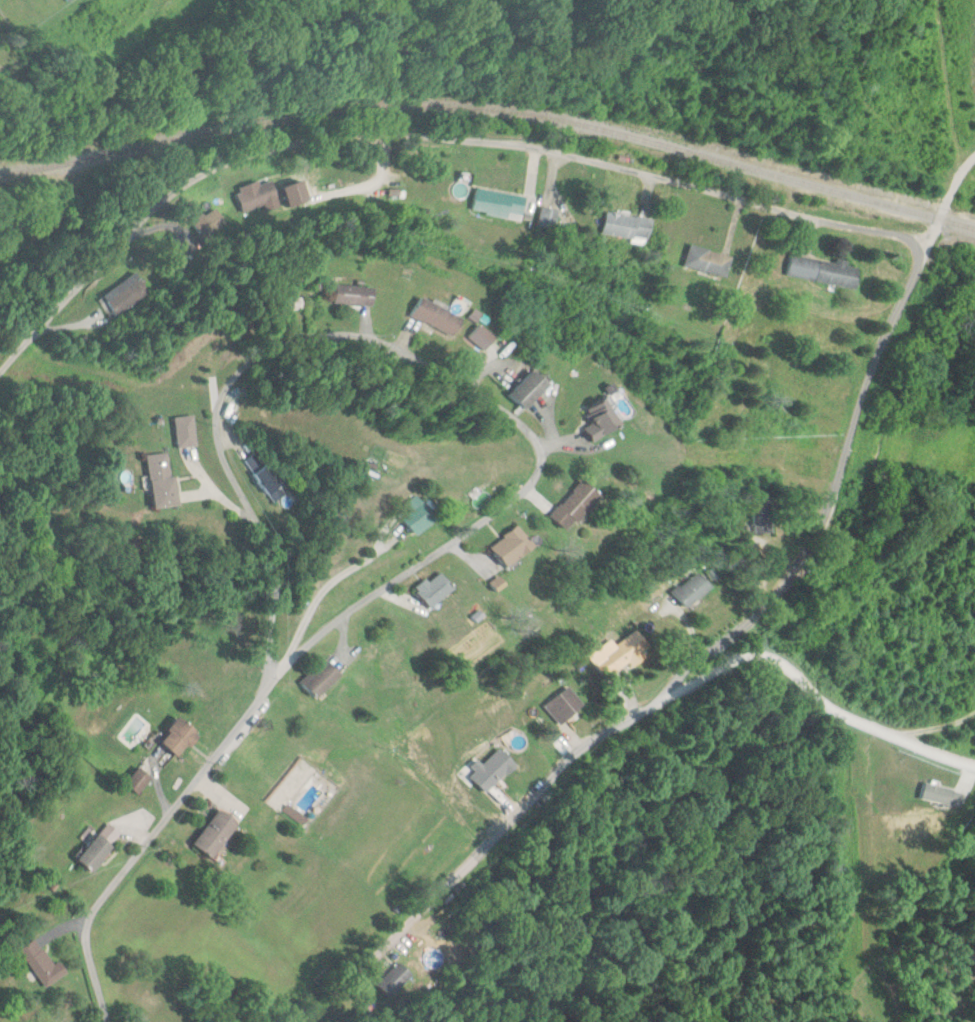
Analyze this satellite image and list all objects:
railway: (491, 113)
road: (427, 137)
building: (257, 196)
building: (499, 203)
building: (209, 222)
building: (626, 226)
building: (708, 260)
building: (824, 270)
building: (354, 294)
building: (123, 296)
building: (436, 316)
road: (389, 341)
building: (530, 389)
building: (601, 421)
building: (268, 477)
building: (162, 481)
building: (576, 506)
building: (420, 515)
building: (764, 516)
building: (512, 547)
building: (435, 589)
building: (694, 590)
road: (303, 626)
building: (621, 655)
road: (679, 674)
building: (321, 679)
road: (811, 692)
building: (565, 705)
building: (180, 738)
building: (492, 769)
building: (139, 781)
building: (215, 832)
road: (143, 845)
building: (96, 852)
building: (44, 962)
building: (393, 980)

